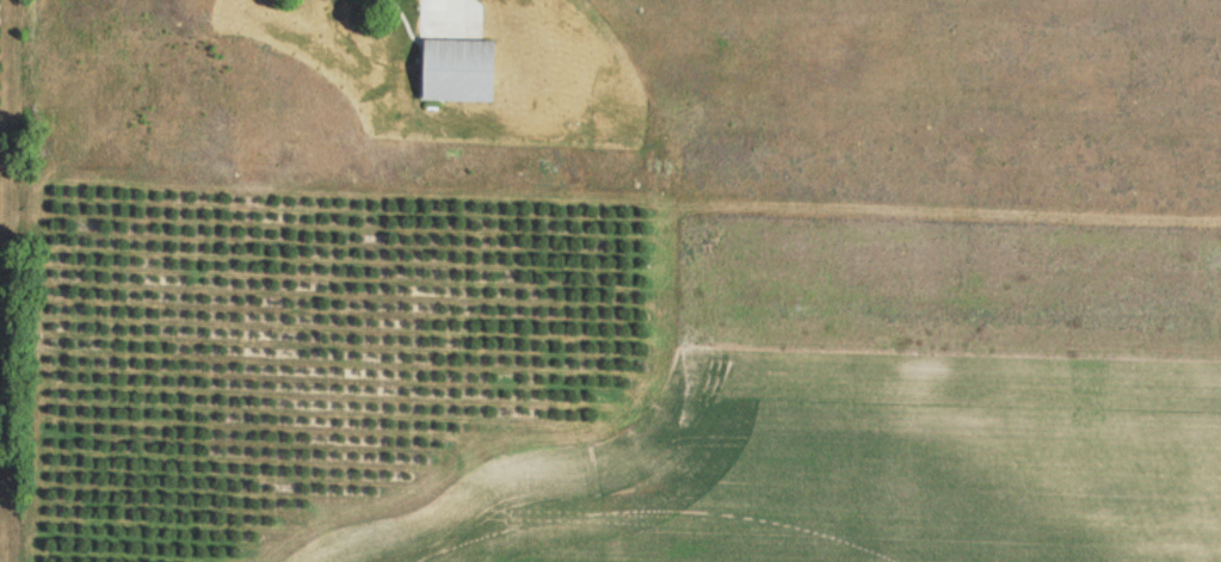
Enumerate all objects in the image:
building: (452, 70)

